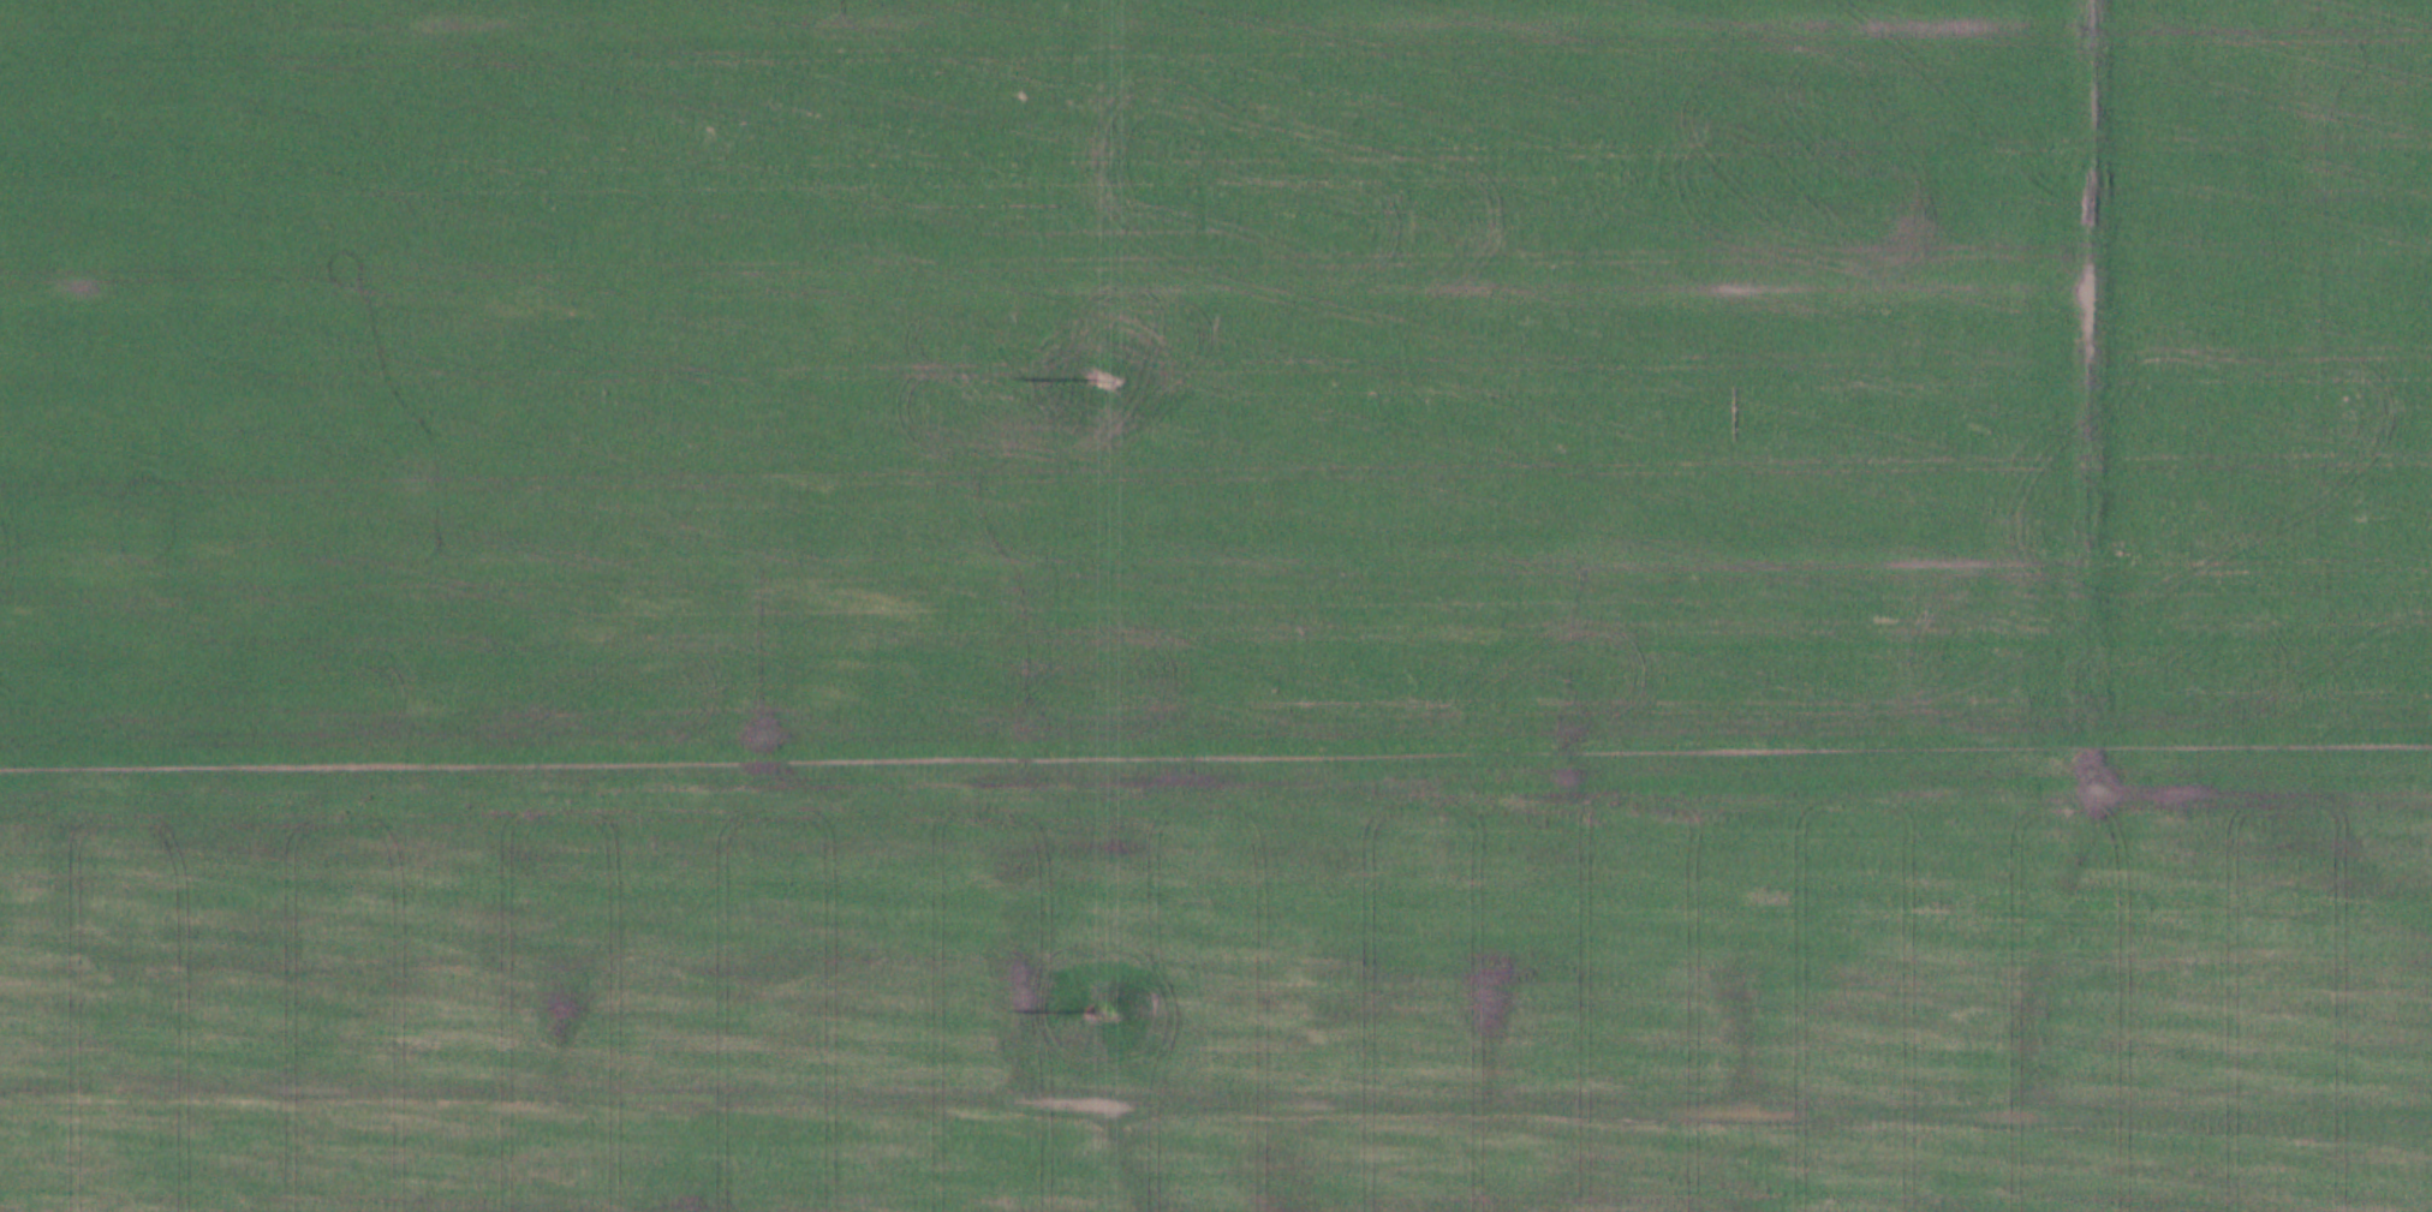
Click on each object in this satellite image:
power tower: (1099, 377)
power tower: (1110, 1009)

